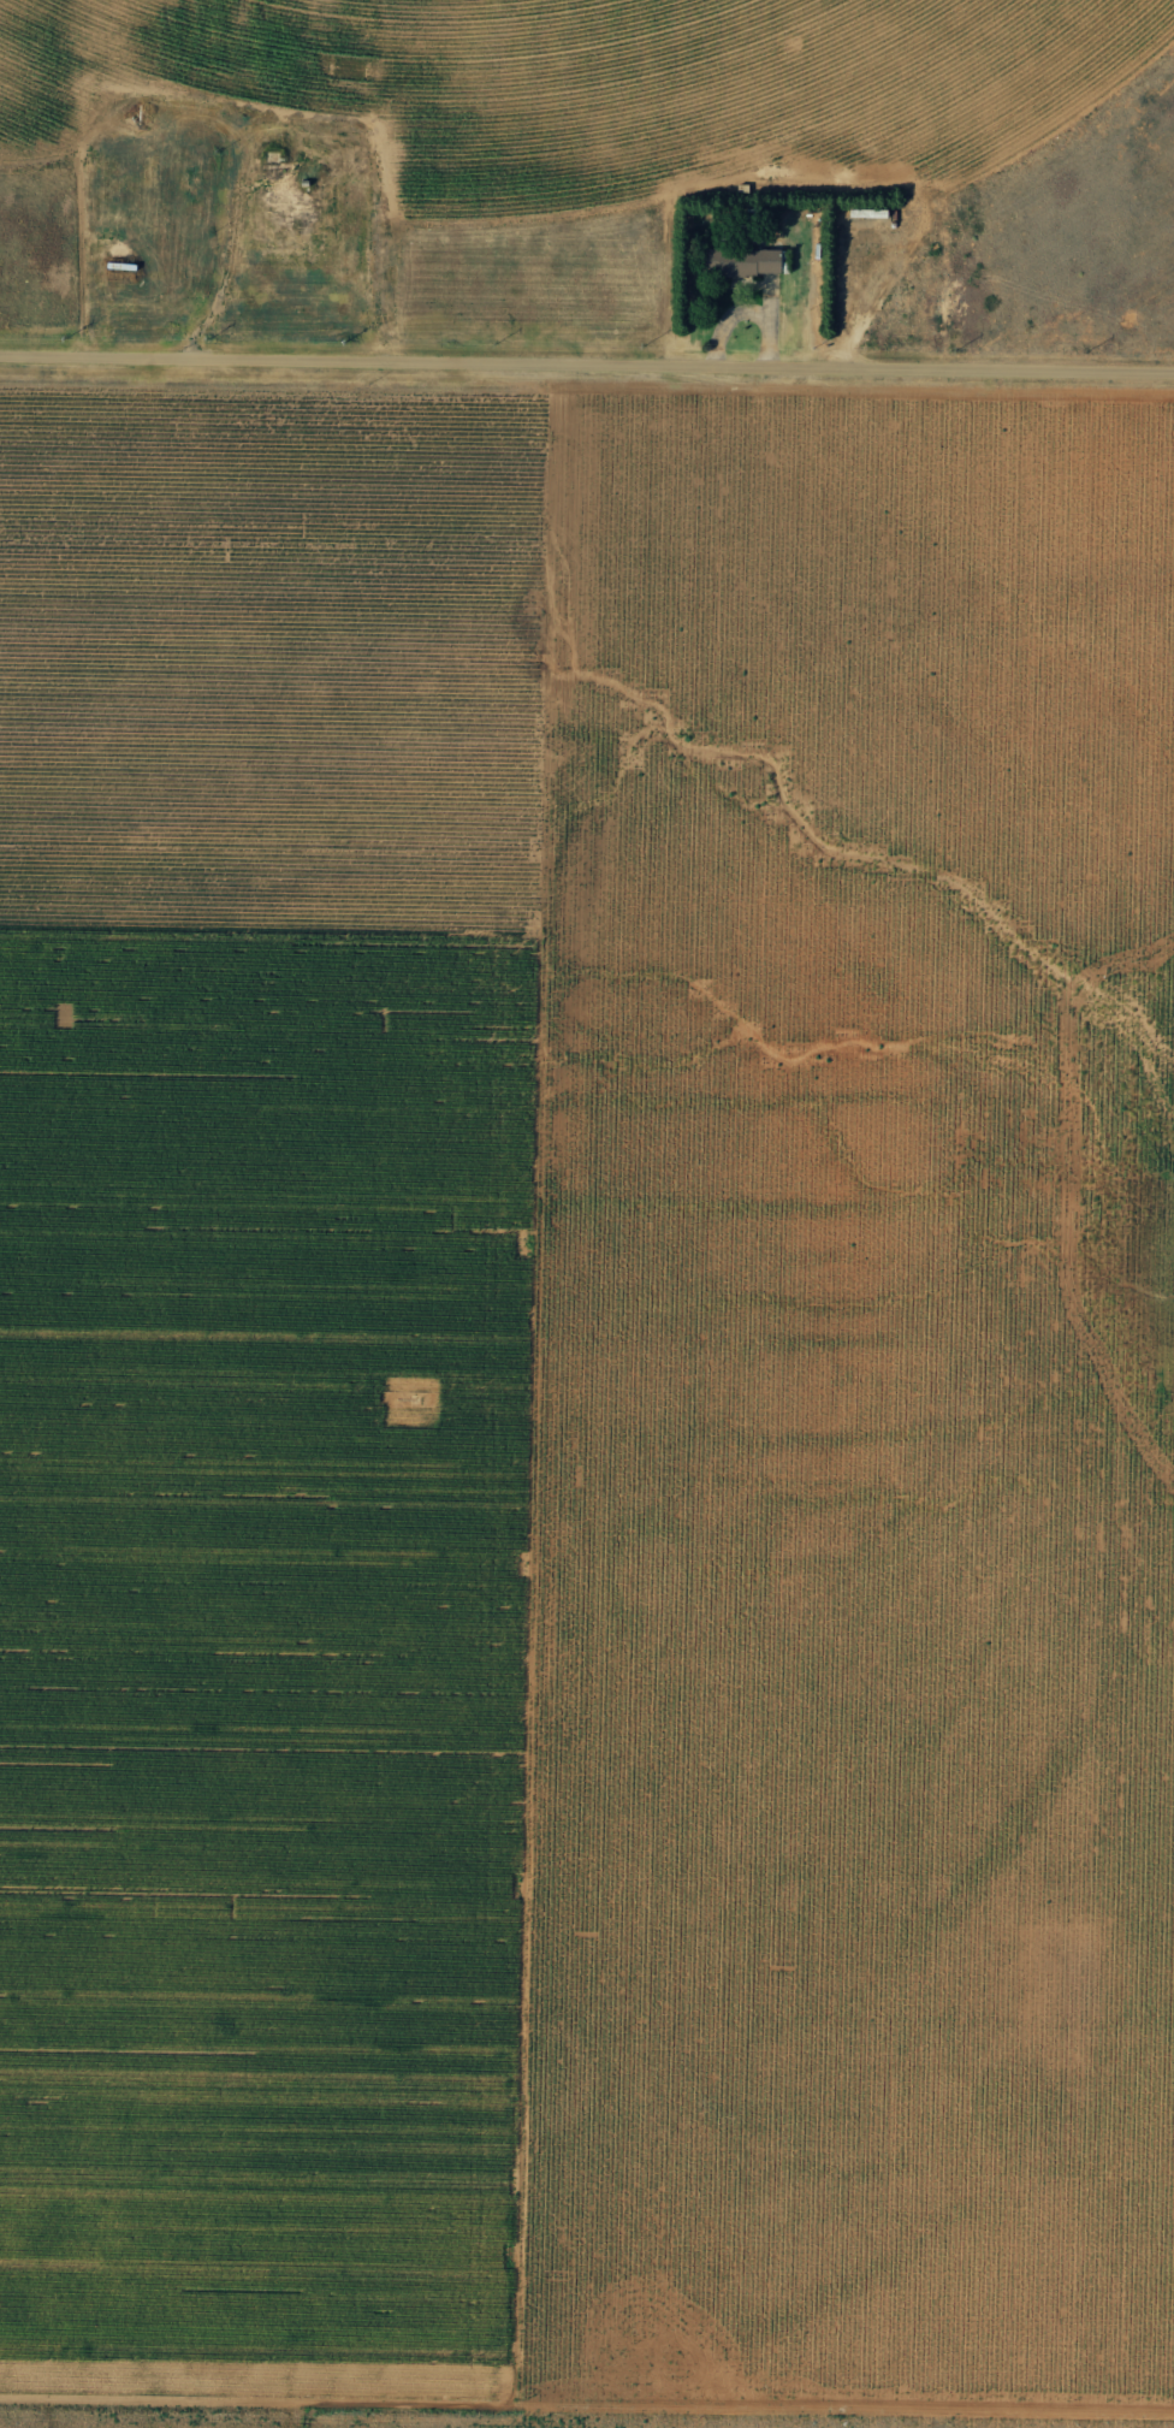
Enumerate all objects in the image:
road: (587, 362)

